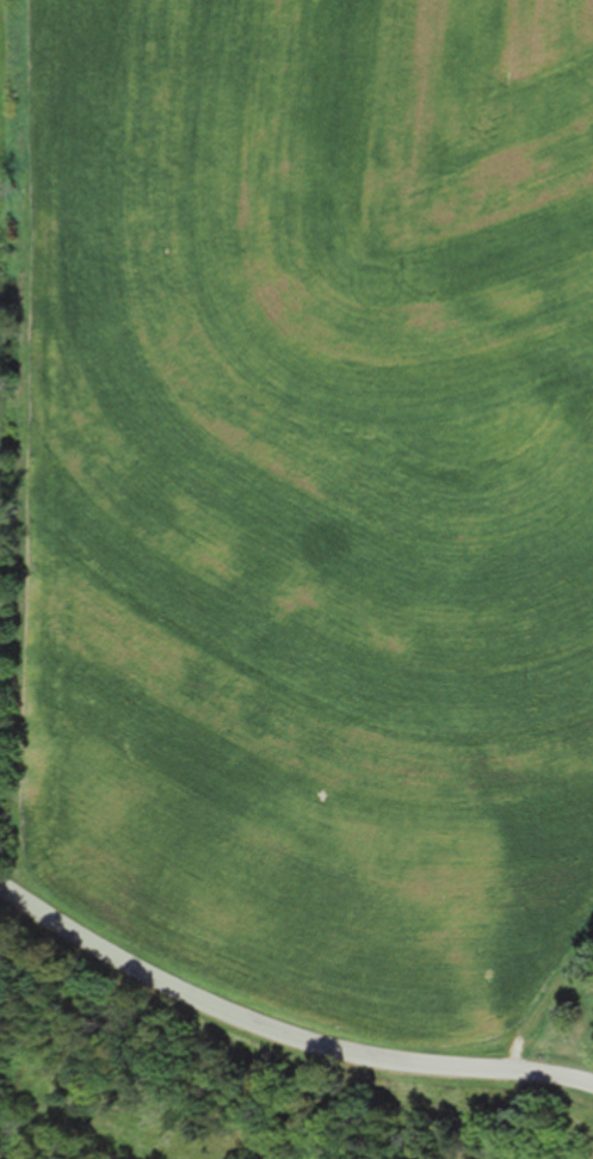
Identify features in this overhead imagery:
road: (283, 1031)

